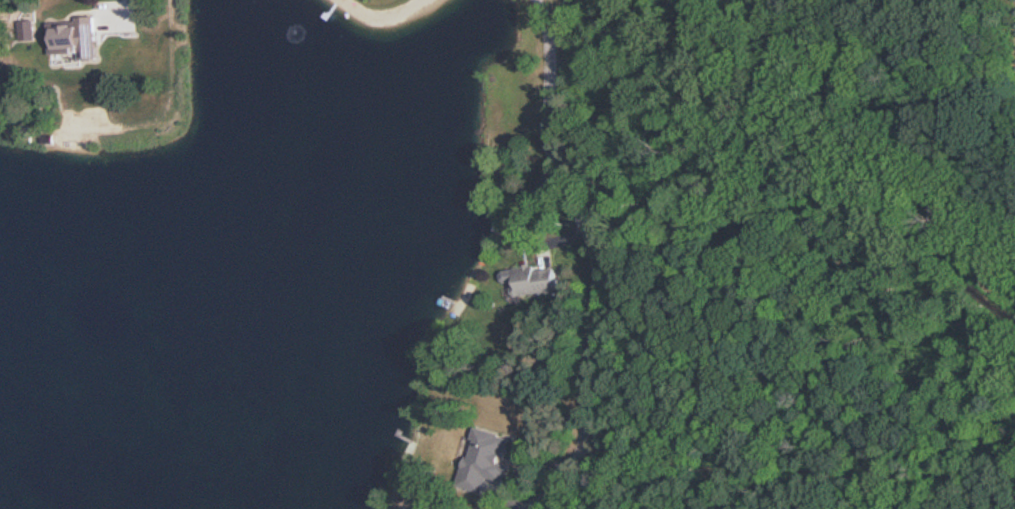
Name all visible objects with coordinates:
road: (124, 5)
building: (27, 29)
road: (593, 262)
building: (533, 278)
building: (487, 458)

